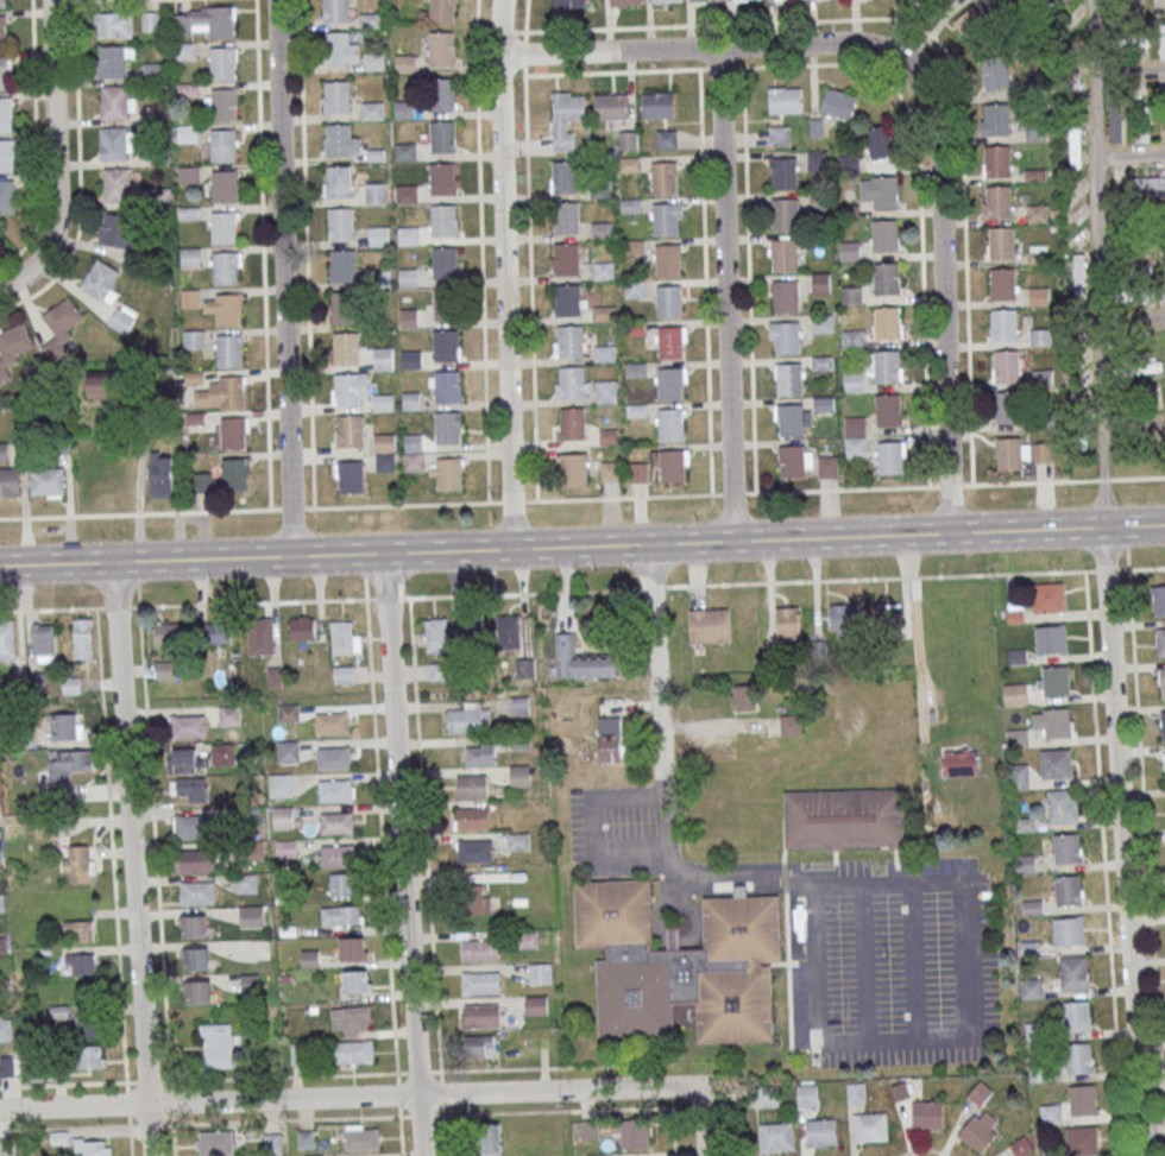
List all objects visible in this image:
building: (665, 0)
building: (701, 0)
building: (926, 0)
building: (625, 1)
building: (569, 2)
building: (2, 4)
building: (336, 10)
building: (443, 11)
building: (151, 20)
building: (208, 20)
building: (114, 25)
building: (1073, 26)
building: (2, 32)
building: (1140, 38)
building: (1163, 40)
building: (442, 46)
building: (336, 48)
road: (706, 48)
building: (184, 50)
road: (946, 52)
road: (32, 57)
building: (113, 61)
building: (373, 61)
building: (223, 63)
road: (1129, 68)
building: (2, 71)
building: (153, 71)
building: (994, 72)
road: (887, 84)
building: (1076, 94)
building: (1163, 94)
building: (441, 95)
building: (336, 96)
building: (785, 100)
building: (115, 102)
building: (838, 103)
building: (222, 105)
building: (657, 105)
building: (610, 106)
building: (569, 108)
building: (404, 109)
building: (372, 110)
building: (5, 113)
building: (1115, 115)
building: (997, 119)
building: (1144, 124)
building: (1037, 132)
building: (188, 133)
road: (53, 134)
building: (779, 135)
building: (442, 137)
building: (339, 139)
building: (666, 139)
building: (879, 143)
building: (114, 144)
building: (1075, 144)
building: (222, 145)
building: (405, 151)
road: (1131, 154)
building: (6, 156)
building: (818, 160)
building: (997, 160)
building: (849, 163)
road: (80, 173)
building: (782, 173)
building: (188, 175)
building: (565, 177)
building: (665, 178)
building: (442, 179)
building: (339, 182)
building: (1147, 183)
building: (116, 184)
building: (223, 187)
building: (880, 191)
building: (376, 192)
building: (407, 194)
building: (7, 196)
building: (820, 201)
building: (997, 202)
building: (849, 210)
building: (1038, 213)
building: (786, 214)
building: (1135, 216)
building: (566, 217)
building: (666, 219)
building: (443, 221)
building: (341, 223)
building: (223, 227)
building: (602, 229)
building: (118, 230)
building: (407, 234)
building: (378, 235)
building: (886, 235)
building: (818, 236)
road: (1132, 240)
building: (1002, 242)
building: (634, 246)
road: (481, 249)
building: (849, 251)
road: (307, 253)
road: (263, 254)
building: (1038, 254)
building: (783, 255)
building: (190, 258)
building: (567, 258)
building: (668, 260)
building: (446, 261)
road: (1098, 263)
building: (1161, 265)
building: (344, 266)
building: (226, 267)
building: (604, 271)
road: (504, 273)
building: (1078, 274)
road: (19, 276)
road: (284, 277)
building: (379, 278)
building: (408, 278)
building: (886, 278)
road: (749, 279)
road: (705, 280)
building: (102, 282)
building: (823, 283)
building: (1002, 284)
road: (531, 288)
building: (635, 290)
road: (726, 293)
building: (851, 295)
building: (1151, 295)
road: (944, 296)
building: (1039, 296)
building: (786, 297)
building: (190, 298)
building: (567, 301)
building: (668, 301)
building: (447, 303)
building: (344, 308)
building: (229, 309)
building: (603, 312)
building: (409, 318)
road: (1132, 318)
building: (121, 321)
building: (823, 323)
building: (888, 323)
building: (1005, 324)
building: (61, 327)
building: (635, 328)
building: (1040, 336)
building: (787, 337)
building: (194, 339)
building: (854, 339)
building: (571, 340)
building: (670, 342)
building: (446, 345)
building: (13, 347)
building: (345, 348)
building: (229, 350)
building: (603, 353)
building: (384, 359)
building: (410, 359)
building: (823, 362)
building: (1007, 366)
building: (886, 367)
building: (636, 369)
building: (1081, 372)
building: (1043, 377)
building: (789, 379)
building: (854, 381)
building: (571, 383)
building: (101, 384)
building: (670, 384)
building: (448, 386)
building: (352, 389)
building: (232, 391)
building: (606, 392)
building: (1152, 394)
building: (411, 399)
building: (383, 402)
building: (823, 404)
building: (1007, 408)
building: (888, 410)
building: (791, 419)
building: (572, 423)
building: (670, 424)
building: (855, 425)
building: (447, 428)
building: (349, 430)
building: (234, 432)
building: (609, 436)
building: (385, 442)
building: (856, 446)
building: (4, 451)
building: (1044, 451)
building: (1008, 454)
building: (889, 457)
building: (413, 461)
building: (792, 461)
building: (385, 462)
building: (672, 466)
building: (827, 467)
building: (575, 469)
building: (610, 472)
building: (637, 472)
building: (163, 474)
building: (234, 474)
building: (448, 474)
building: (352, 476)
building: (11, 481)
building: (48, 481)
road: (599, 498)
road: (17, 517)
road: (582, 545)
road: (993, 573)
road: (410, 595)
building: (1048, 596)
building: (1159, 599)
building: (880, 614)
building: (844, 617)
building: (703, 623)
building: (788, 623)
building: (300, 628)
building: (219, 632)
building: (470, 632)
building: (506, 632)
building: (171, 633)
building: (436, 634)
building: (260, 636)
building: (83, 637)
building: (345, 637)
building: (1050, 639)
building: (7, 642)
building: (44, 642)
building: (1160, 642)
building: (581, 661)
road: (661, 667)
building: (165, 670)
building: (345, 674)
building: (1056, 680)
building: (1163, 682)
building: (1016, 694)
building: (743, 696)
building: (288, 713)
building: (470, 718)
building: (332, 722)
building: (1057, 722)
building: (1163, 725)
building: (67, 726)
building: (188, 726)
building: (792, 726)
building: (1018, 738)
building: (611, 739)
building: (288, 751)
building: (480, 753)
building: (223, 754)
building: (334, 757)
building: (184, 760)
building: (962, 763)
building: (1056, 764)
building: (69, 765)
building: (1164, 766)
building: (519, 775)
building: (1019, 776)
building: (281, 784)
building: (472, 787)
building: (189, 789)
building: (336, 790)
building: (1062, 806)
building: (283, 817)
building: (472, 819)
building: (338, 822)
building: (842, 822)
building: (191, 826)
road: (587, 827)
building: (518, 841)
road: (1122, 841)
road: (1146, 846)
building: (1066, 847)
building: (474, 851)
road: (403, 853)
building: (339, 854)
road: (132, 858)
building: (196, 860)
building: (77, 863)
road: (1103, 863)
road: (427, 876)
road: (384, 877)
road: (158, 879)
road: (113, 880)
building: (246, 883)
building: (344, 885)
building: (1068, 890)
building: (196, 892)
building: (476, 899)
building: (1, 903)
building: (341, 915)
building: (251, 916)
building: (193, 926)
road: (965, 928)
building: (80, 929)
building: (1069, 930)
building: (527, 939)
building: (353, 948)
building: (479, 949)
building: (195, 959)
building: (80, 962)
road: (911, 962)
building: (680, 964)
road: (861, 964)
building: (540, 973)
building: (1073, 973)
building: (358, 981)
building: (248, 983)
building: (480, 983)
building: (1031, 988)
building: (197, 991)
building: (535, 1005)
building: (480, 1016)
building: (1077, 1016)
building: (348, 1019)
building: (89, 1026)
building: (5, 1029)
building: (218, 1046)
building: (479, 1046)
building: (353, 1051)
building: (92, 1056)
building: (1078, 1057)
building: (8, 1066)
road: (309, 1073)
building: (855, 1092)
building: (807, 1095)
road: (347, 1097)
building: (768, 1097)
building: (1082, 1099)
road: (736, 1110)
building: (927, 1113)
building: (1050, 1113)
road: (359, 1116)
road: (701, 1124)
building: (870, 1126)
building: (980, 1129)
building: (820, 1132)
building: (635, 1133)
building: (776, 1136)
building: (361, 1137)
building: (490, 1138)
building: (1082, 1141)
building: (216, 1143)
building: (1021, 1145)
building: (6, 1146)
building: (92, 1146)
road: (924, 1149)
building: (321, 1155)

